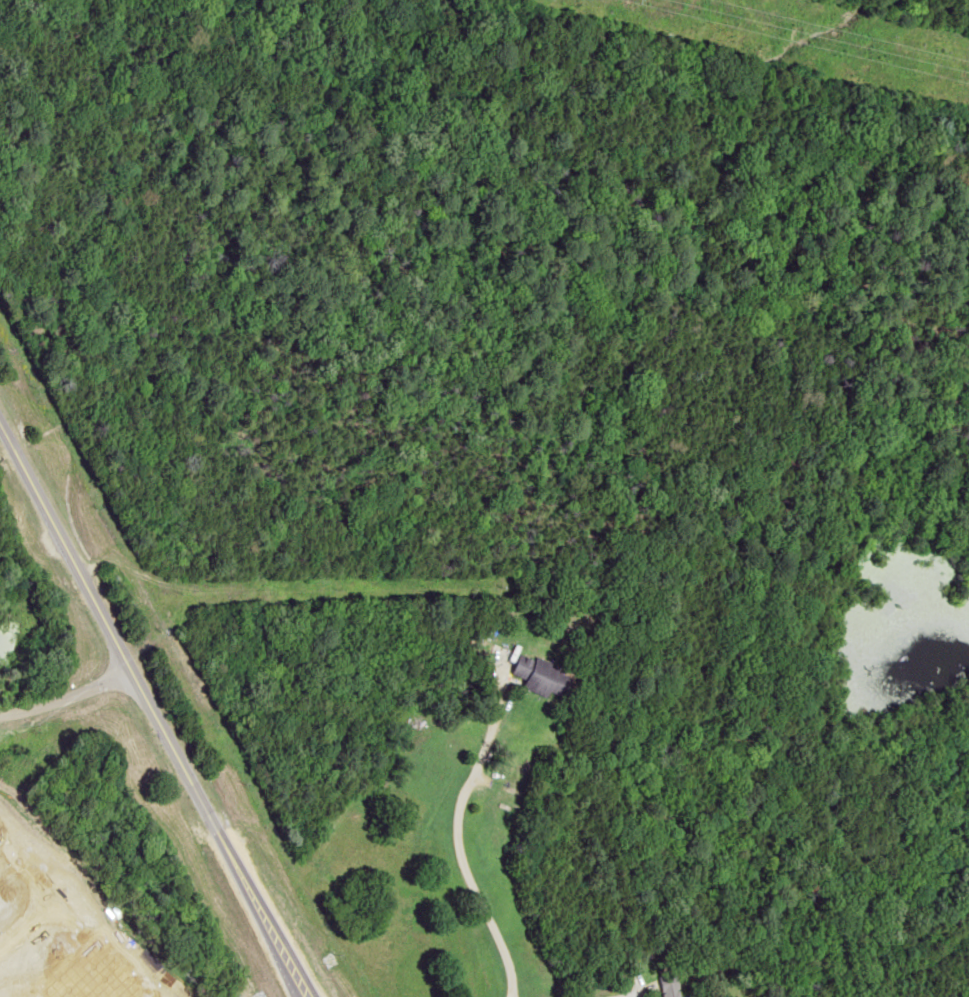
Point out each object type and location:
building: (541, 676)
road: (63, 694)
road: (153, 720)
road: (452, 845)
building: (666, 983)

